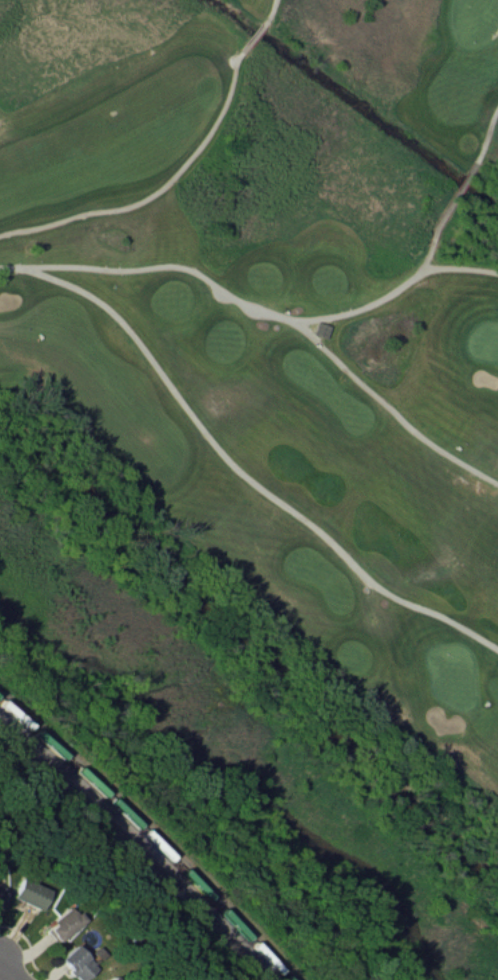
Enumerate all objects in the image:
road: (275, 10)
road: (256, 38)
road: (488, 137)
road: (158, 194)
road: (453, 204)
road: (460, 270)
road: (228, 296)
building: (321, 332)
park: (269, 348)
road: (388, 409)
road: (244, 477)
railway: (148, 835)
railway: (139, 847)
building: (31, 897)
building: (0, 902)
building: (61, 927)
road: (0, 959)
building: (80, 964)
road: (11, 970)
building: (111, 979)

